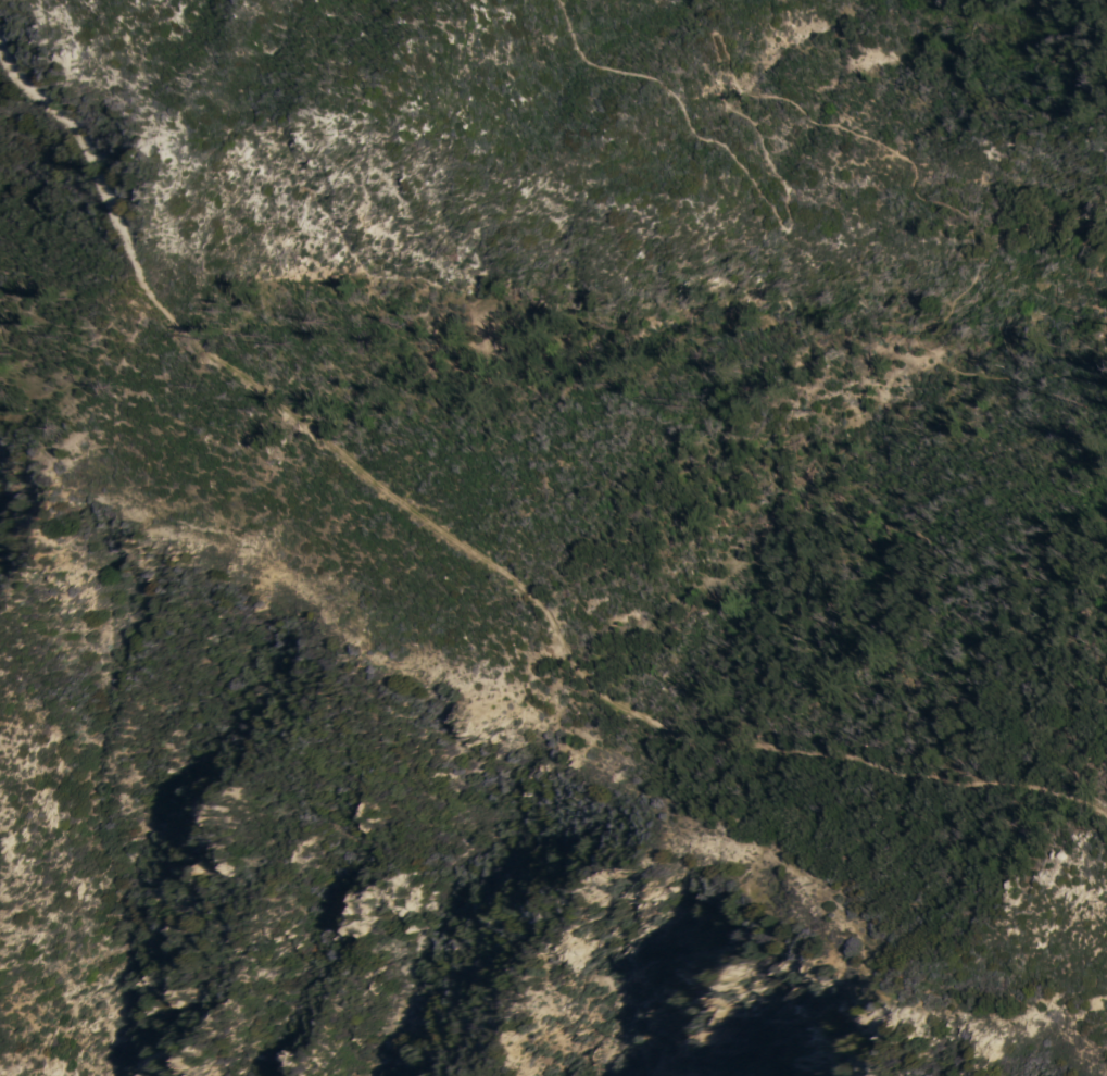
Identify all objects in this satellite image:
road: (756, 92)
road: (93, 347)
road: (478, 548)

